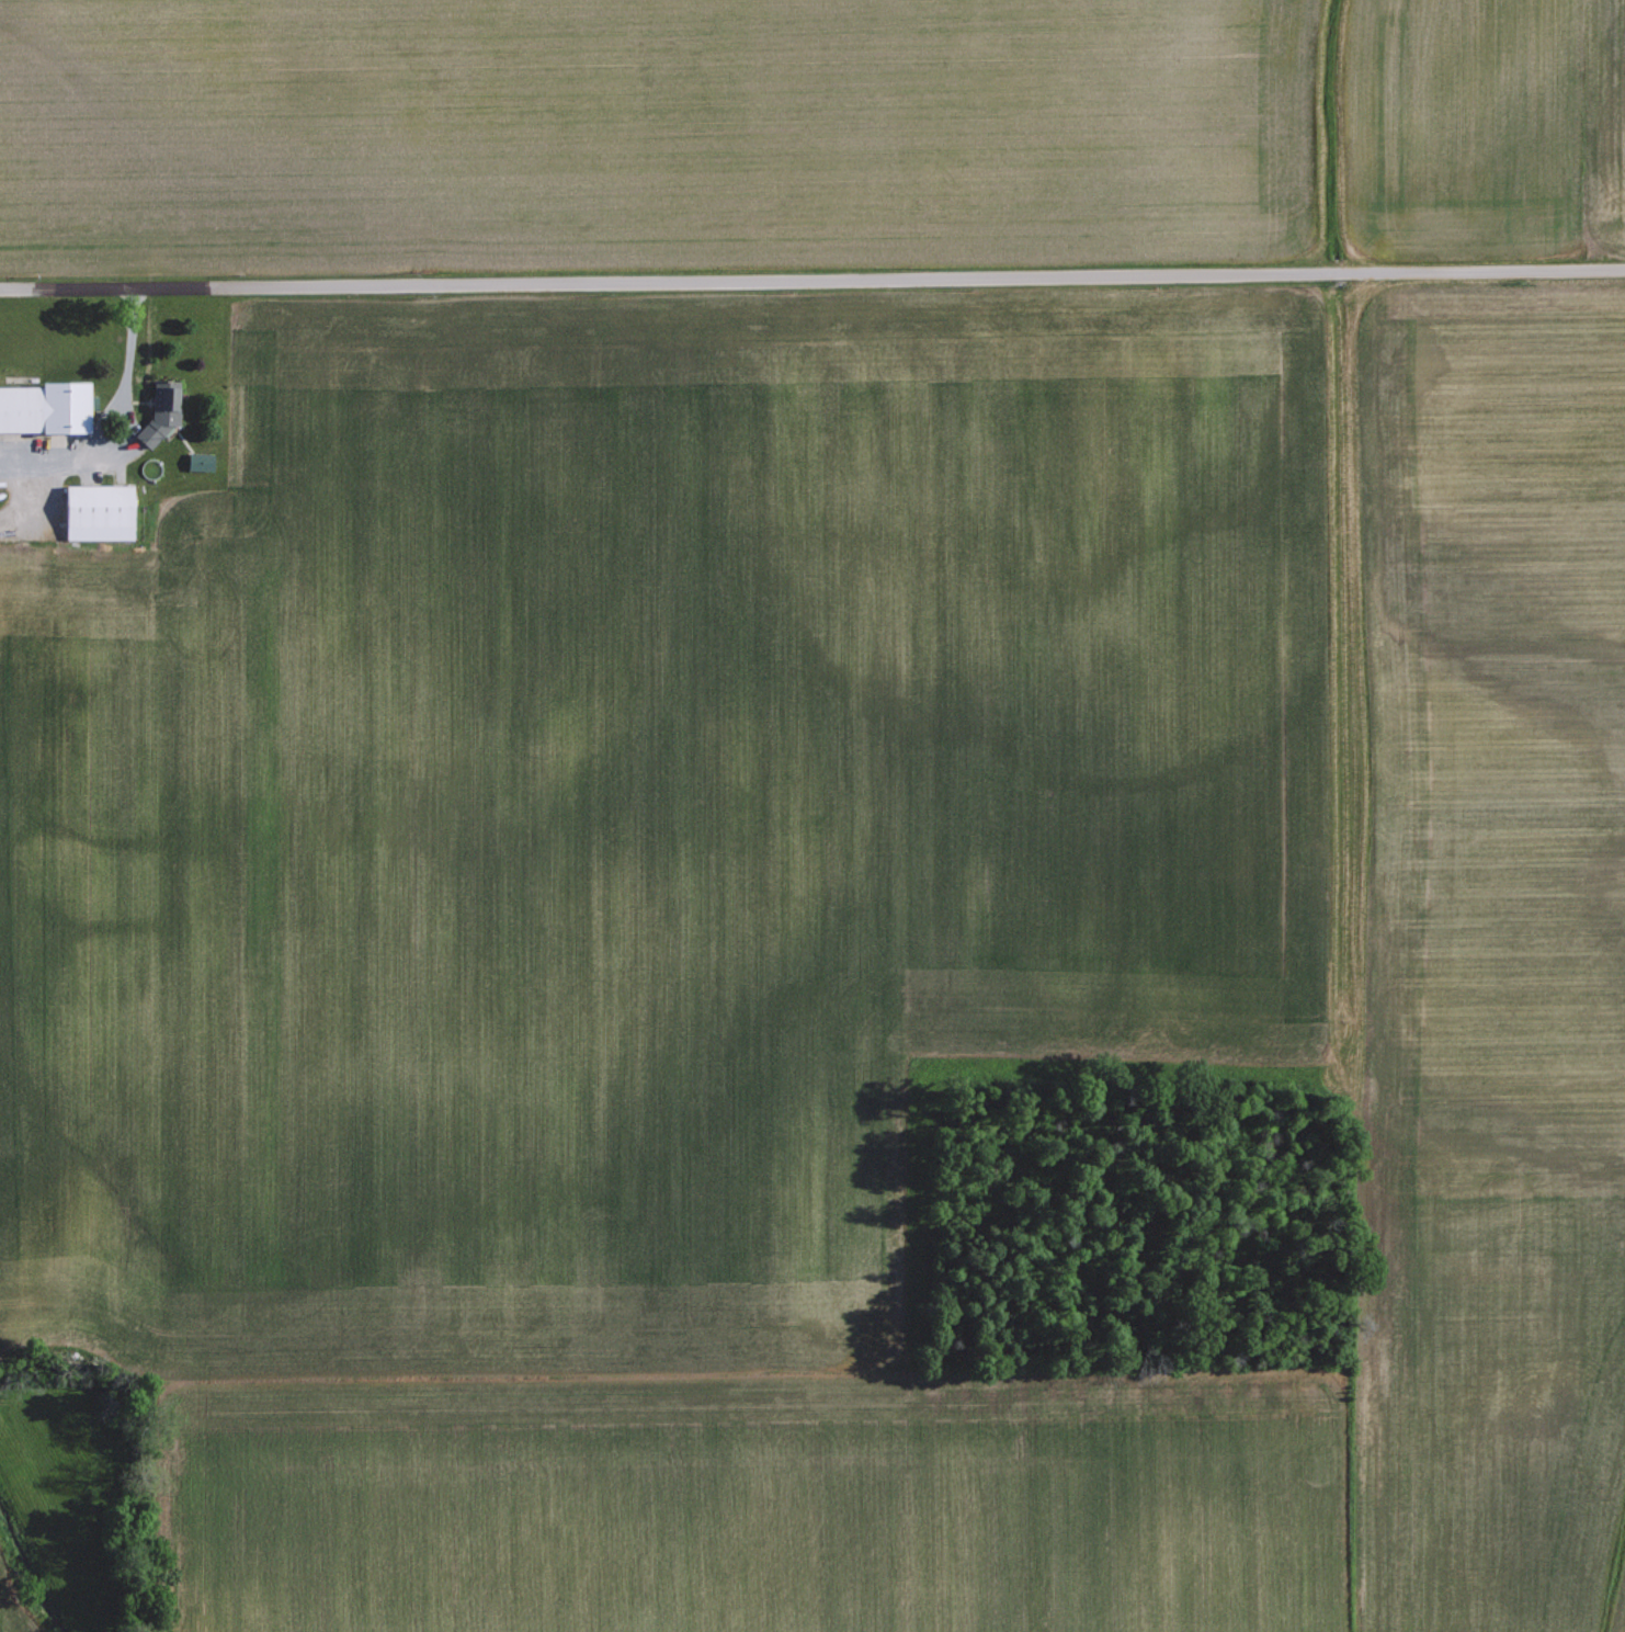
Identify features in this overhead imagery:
road: (811, 285)
building: (44, 407)
building: (161, 411)
building: (200, 461)
building: (99, 511)

